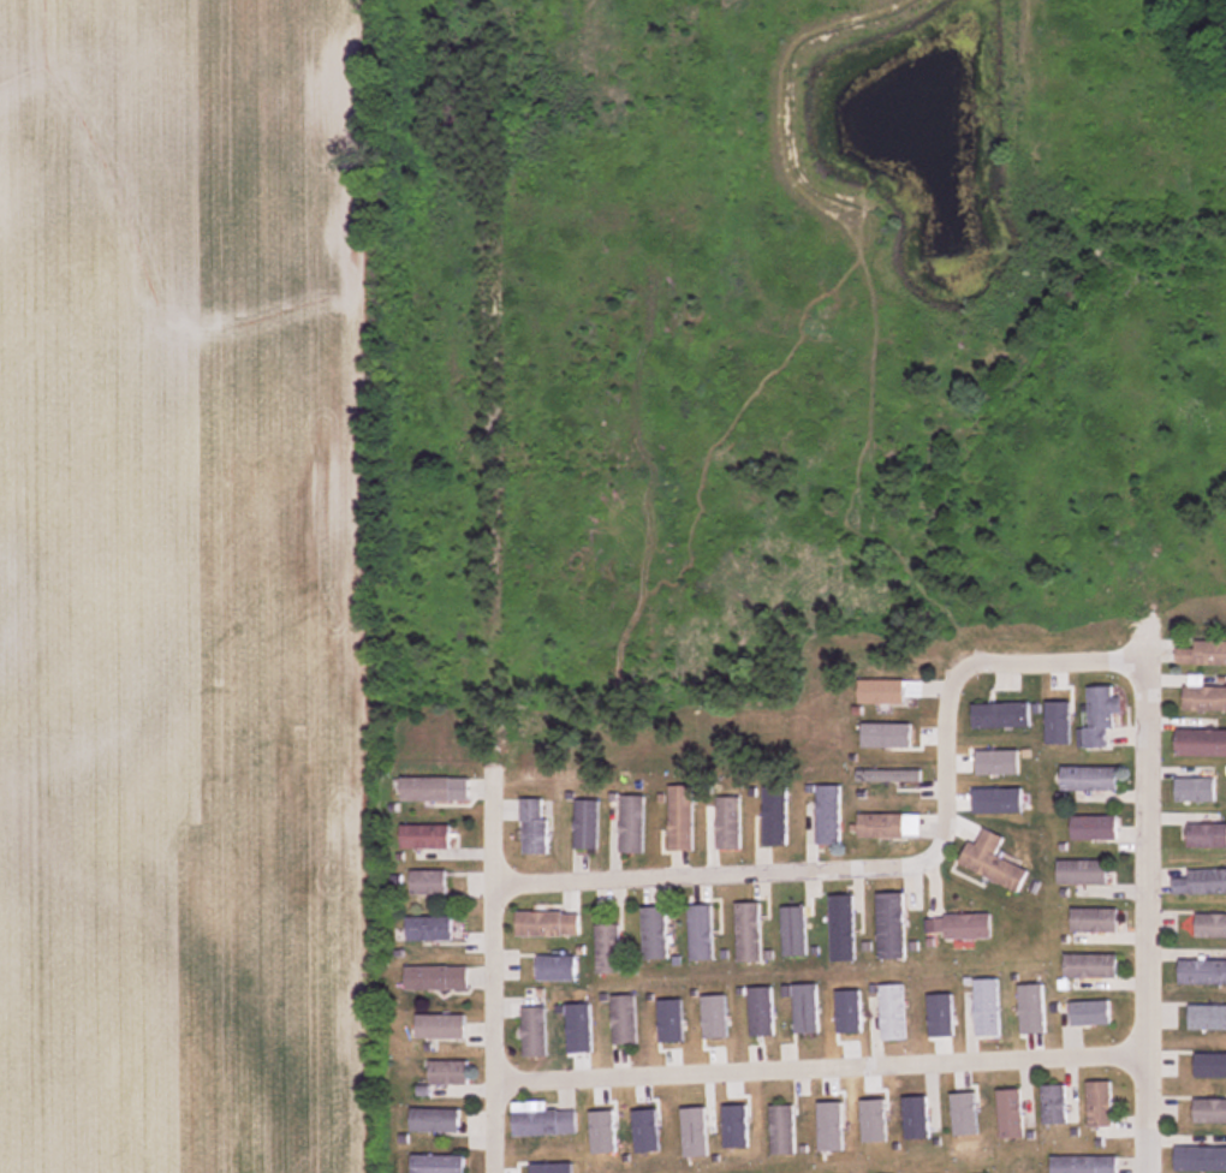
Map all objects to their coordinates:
building: (1203, 655)
road: (1053, 662)
building: (882, 692)
building: (1204, 699)
building: (1001, 716)
building: (1100, 716)
building: (1201, 744)
building: (1090, 780)
building: (425, 790)
building: (828, 815)
building: (775, 816)
building: (682, 818)
building: (730, 823)
building: (587, 826)
building: (632, 826)
building: (885, 826)
building: (535, 827)
building: (1095, 828)
building: (425, 836)
building: (1206, 836)
building: (993, 862)
road: (811, 870)
building: (1083, 873)
building: (429, 882)
building: (1201, 882)
road: (1147, 915)
building: (1095, 921)
building: (548, 924)
building: (891, 925)
building: (1210, 925)
building: (843, 928)
building: (958, 928)
building: (436, 929)
building: (794, 931)
building: (701, 933)
building: (749, 933)
building: (655, 934)
building: (608, 949)
building: (1091, 966)
building: (557, 969)
road: (493, 972)
building: (436, 978)
building: (807, 1008)
building: (988, 1008)
building: (762, 1012)
building: (894, 1013)
building: (1090, 1014)
building: (625, 1022)
building: (441, 1025)
building: (534, 1032)
building: (1210, 1065)
road: (817, 1070)
building: (448, 1072)
building: (1054, 1104)
building: (1100, 1104)
building: (1209, 1111)
building: (918, 1114)
building: (1010, 1114)
building: (434, 1120)
building: (542, 1120)
building: (784, 1130)
building: (1200, 1159)
building: (1084, 1165)

